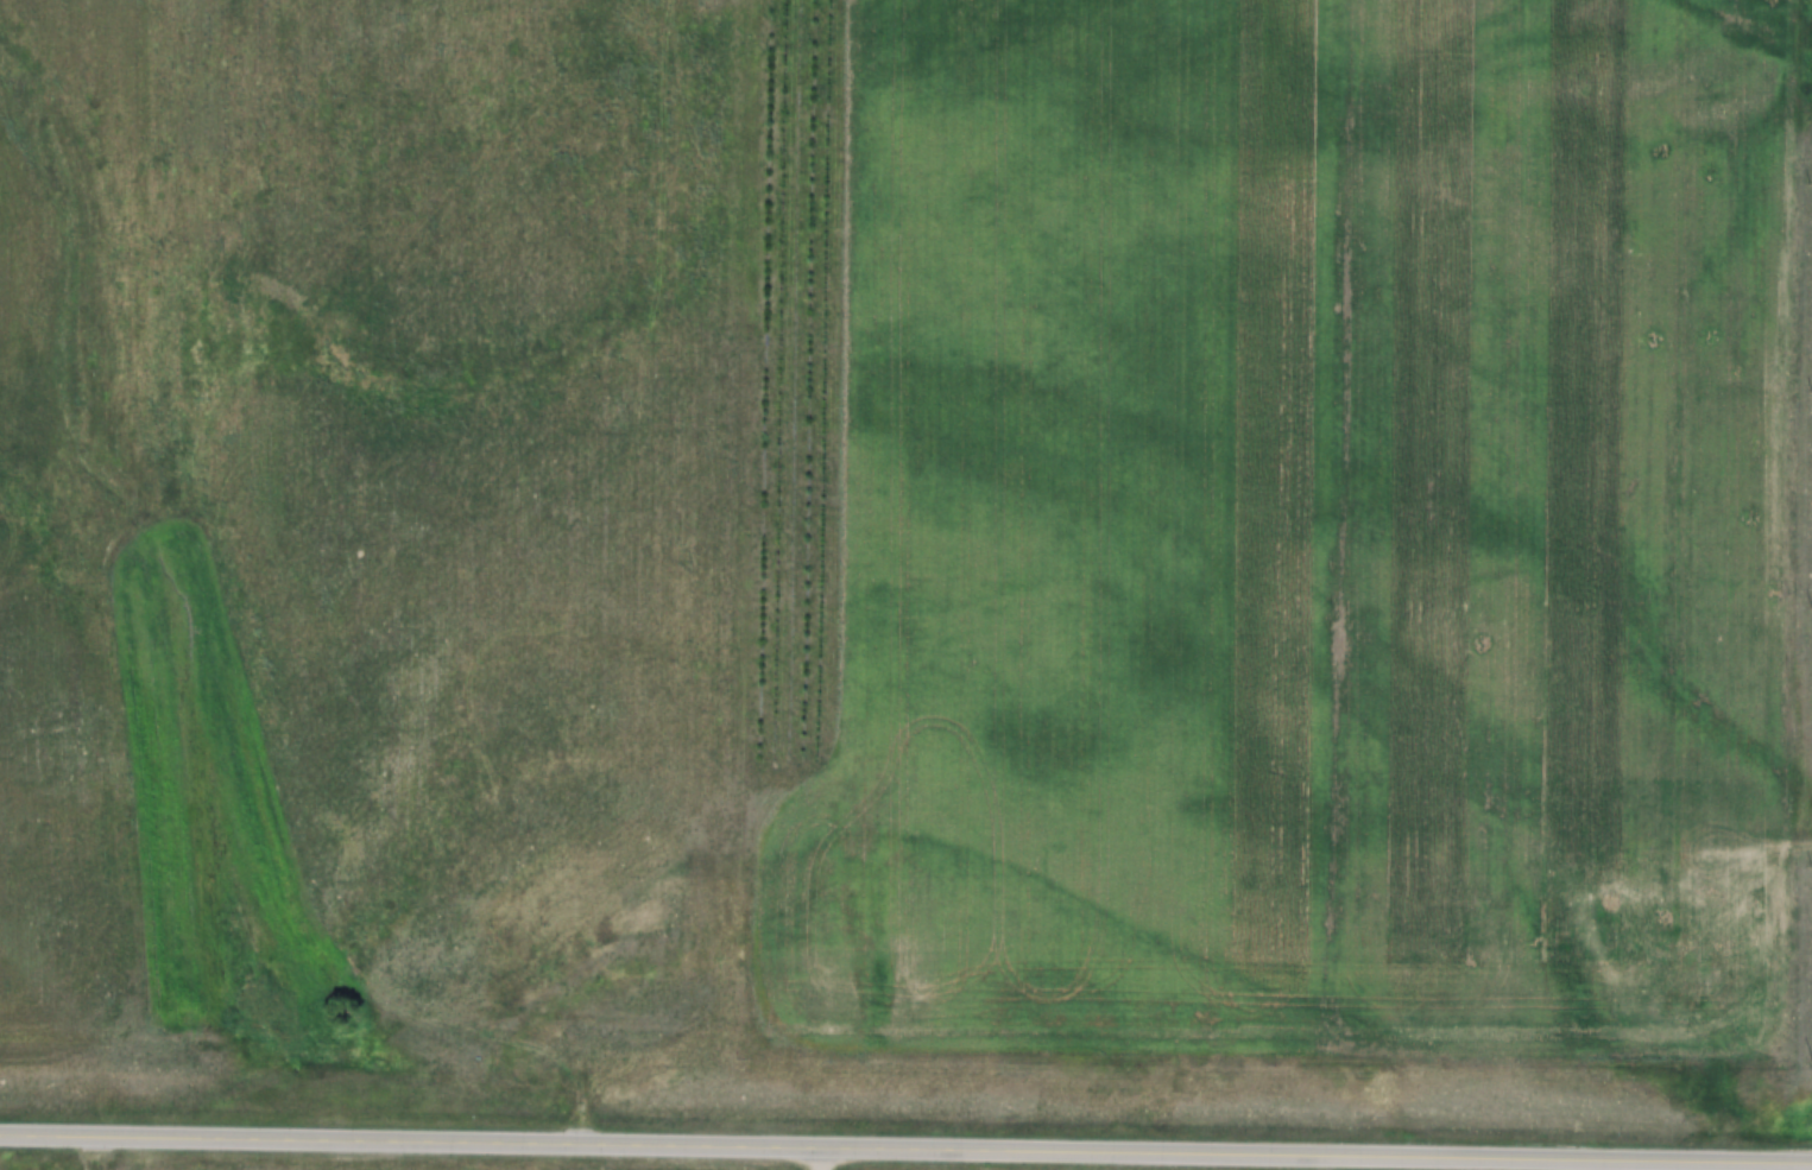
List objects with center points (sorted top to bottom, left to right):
road: (905, 1146)

